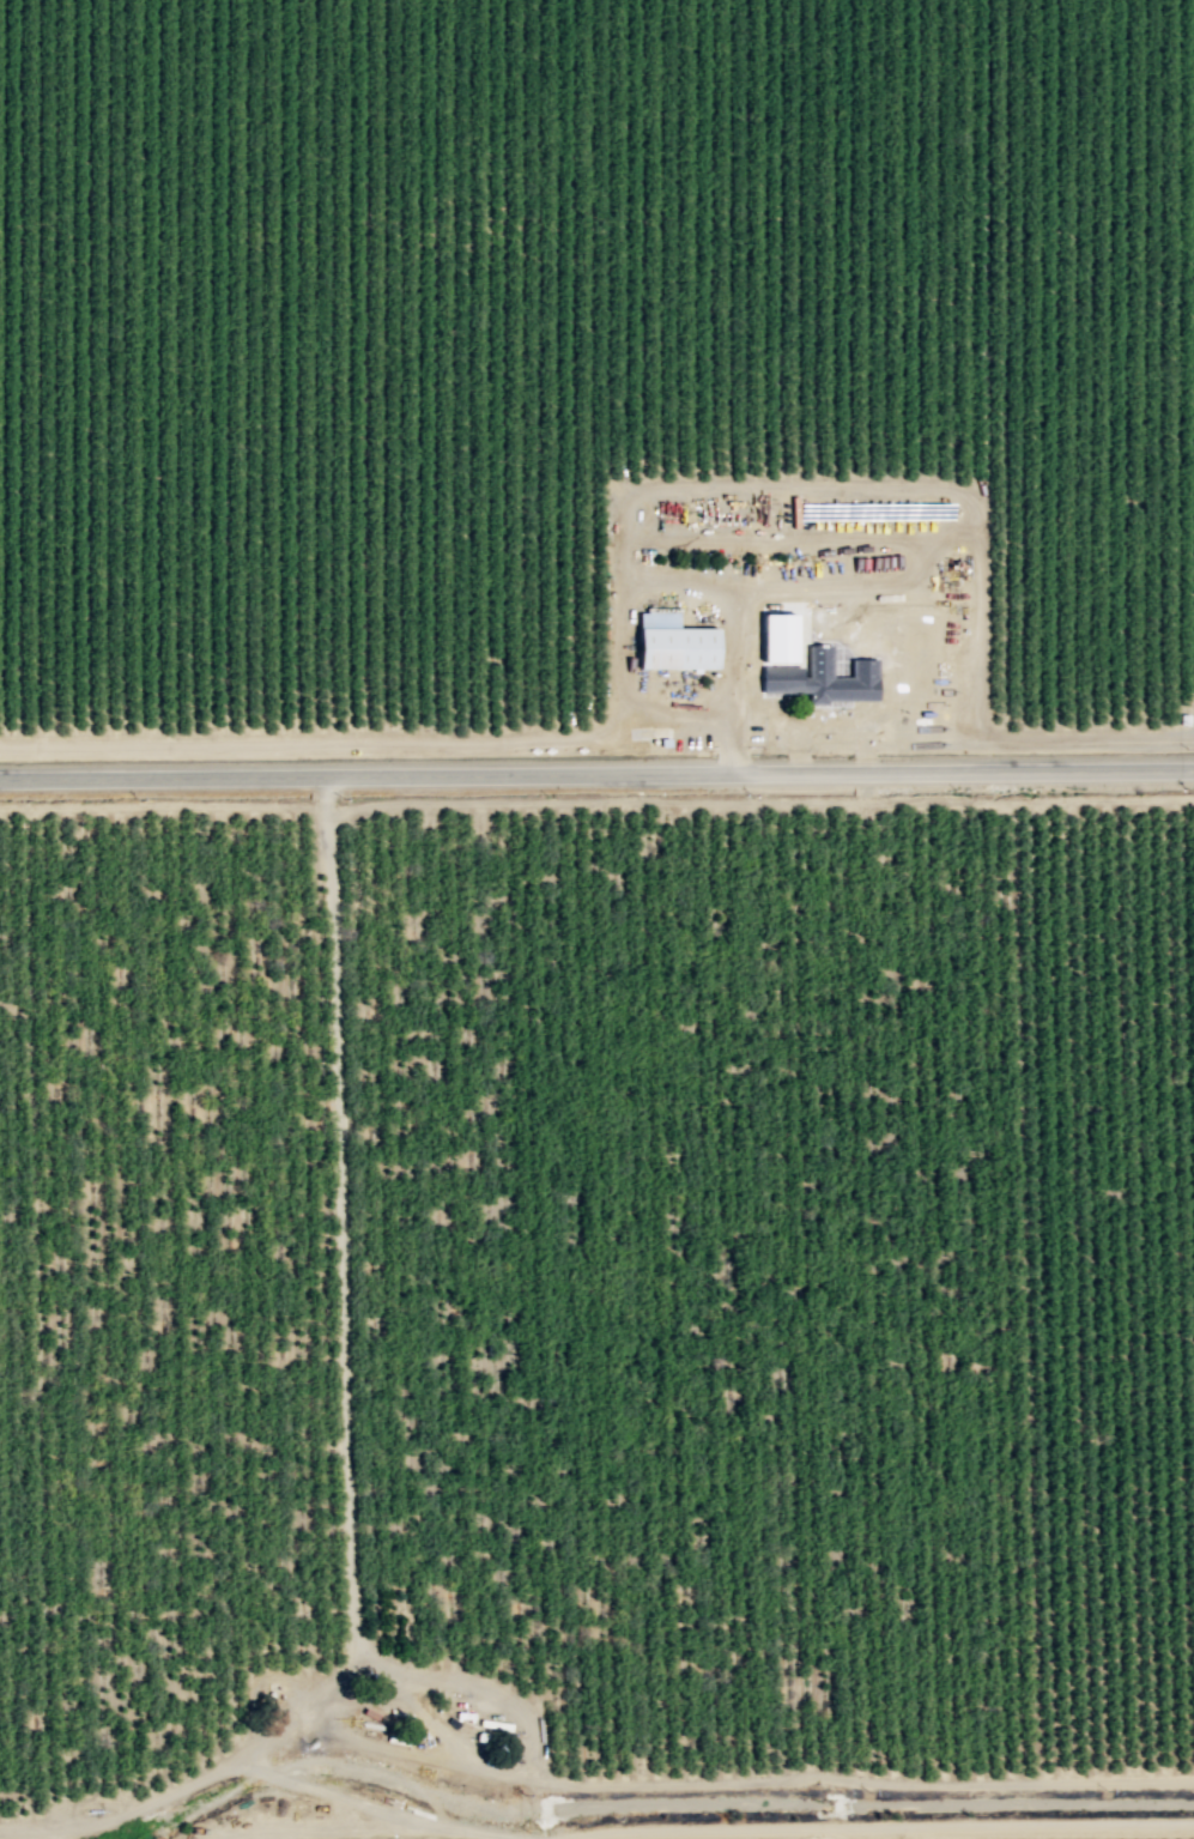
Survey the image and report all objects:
road: (783, 484)
road: (776, 538)
road: (922, 589)
road: (981, 594)
road: (623, 635)
building: (780, 639)
building: (677, 645)
road: (737, 652)
road: (1087, 738)
road: (326, 742)
road: (731, 742)
road: (596, 772)
road: (759, 801)
road: (163, 807)
road: (344, 1236)
road: (388, 1749)
road: (539, 1761)
road: (199, 1779)
road: (861, 1780)
road: (710, 1828)
road: (61, 1833)

